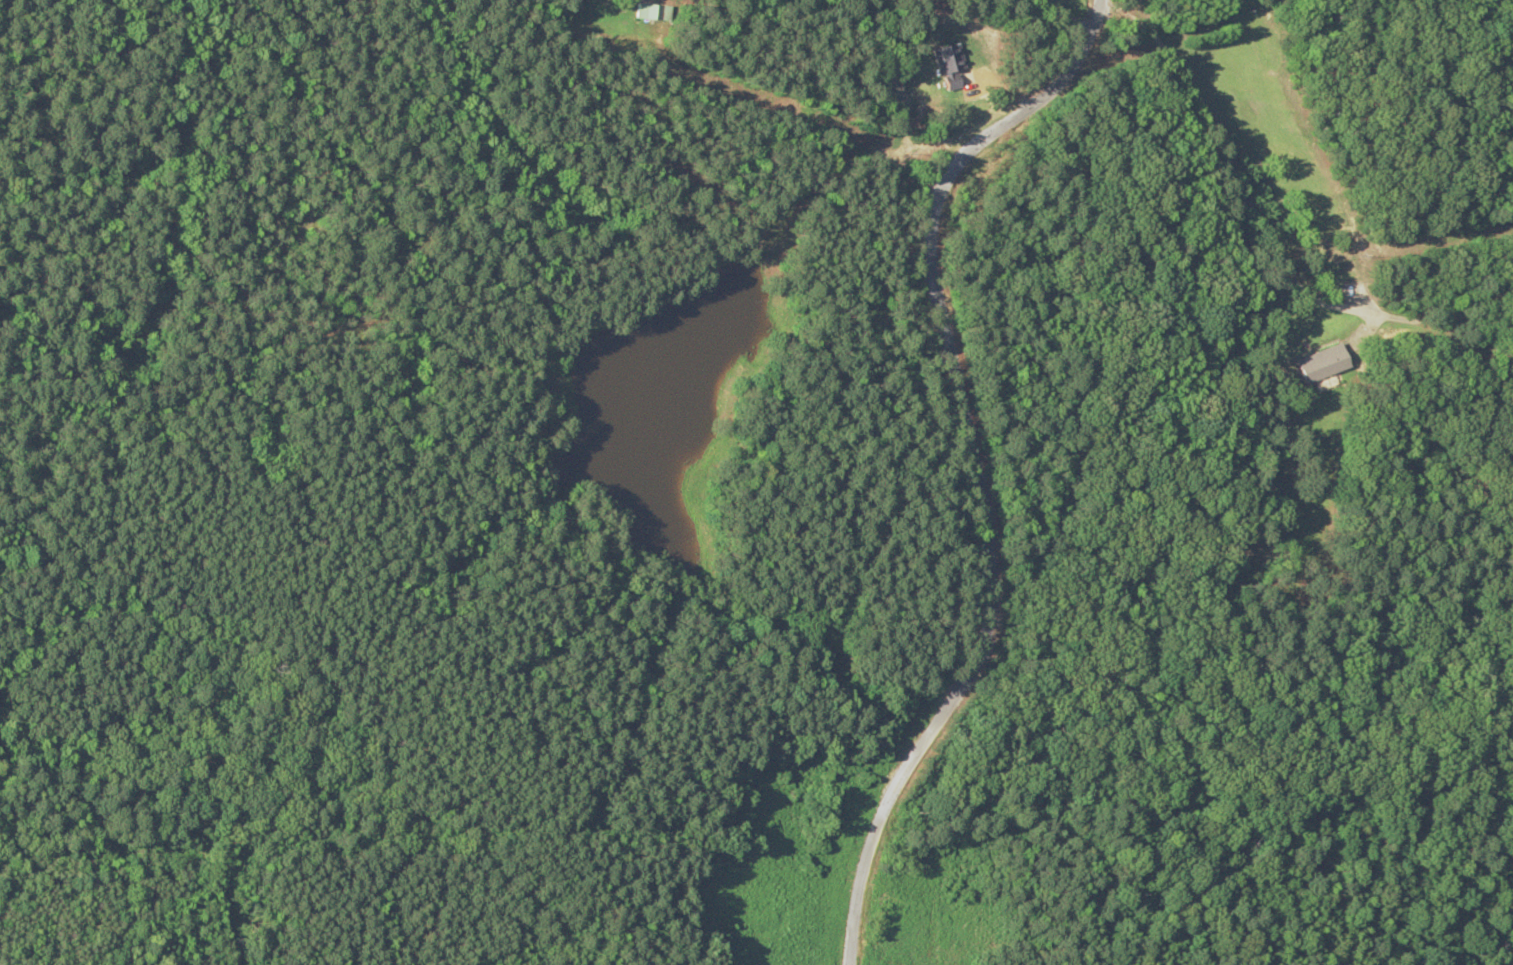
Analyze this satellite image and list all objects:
building: (651, 11)
road: (1067, 18)
building: (943, 55)
building: (945, 80)
road: (1262, 226)
building: (1317, 362)
road: (985, 466)
building: (1262, 469)

